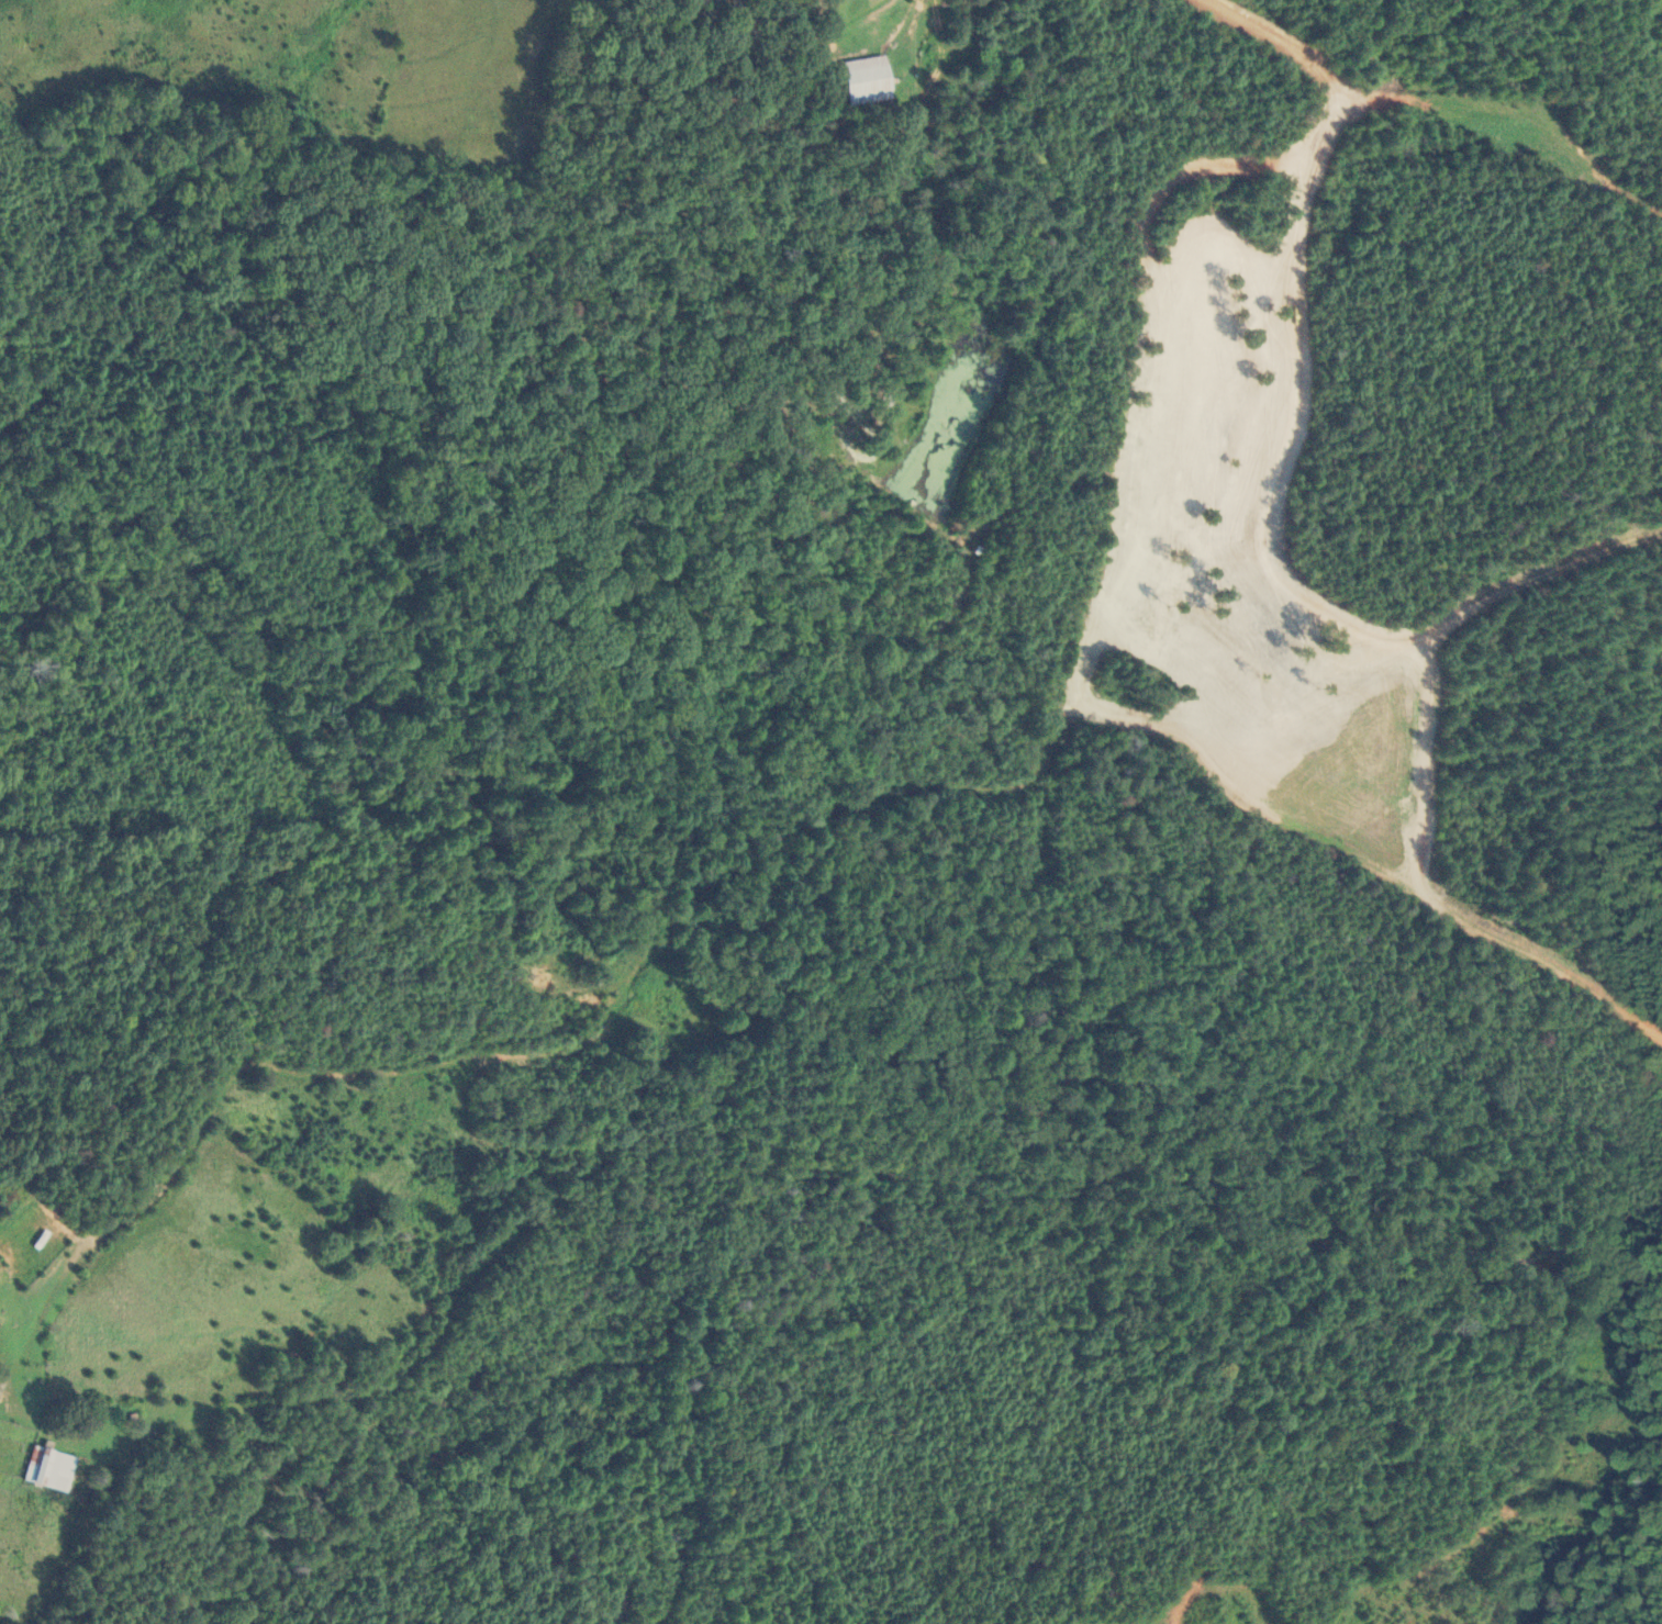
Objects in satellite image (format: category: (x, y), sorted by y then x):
building: (862, 79)
building: (49, 1469)

